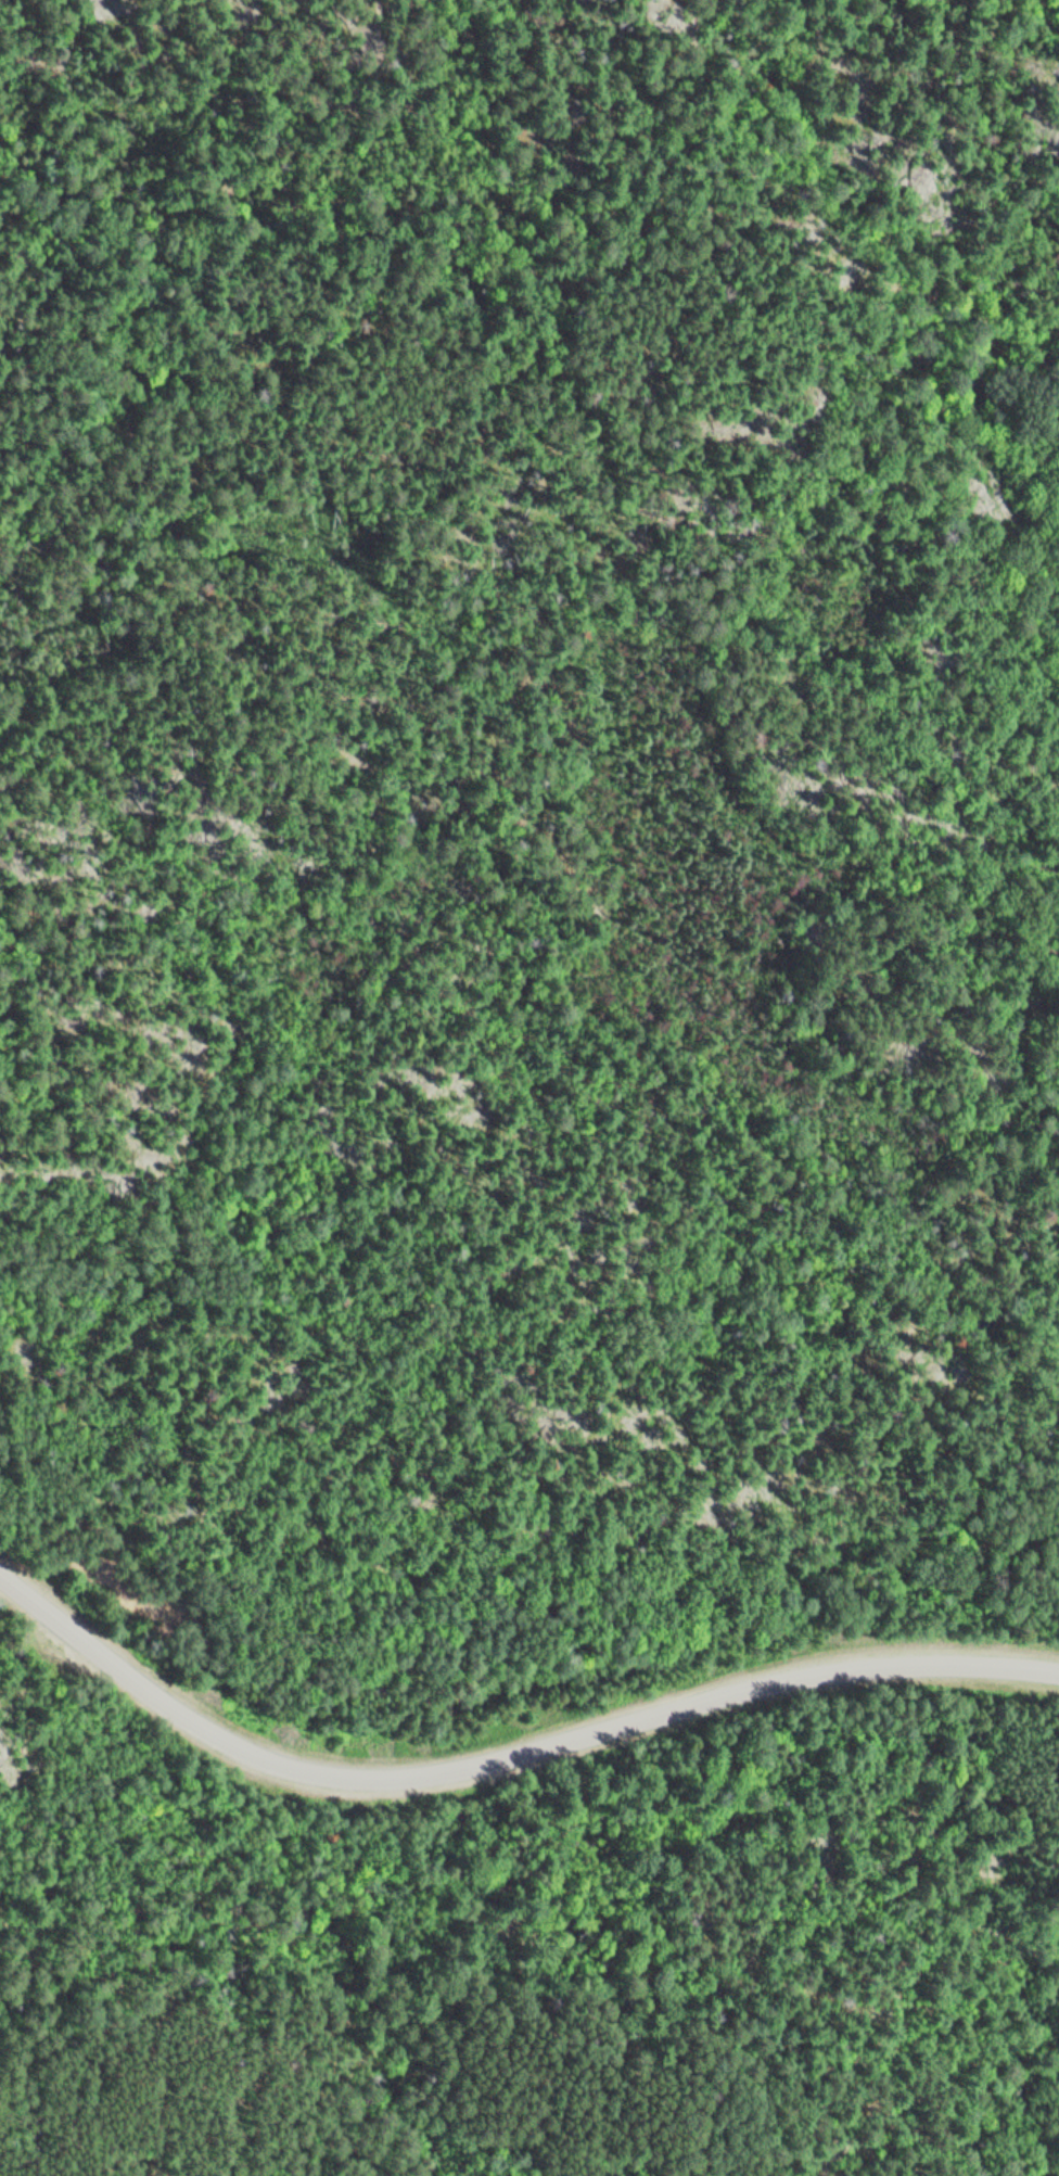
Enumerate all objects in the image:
road: (506, 1759)
road: (1, 1933)
road: (318, 1967)
road: (50, 2111)
road: (21, 2153)

